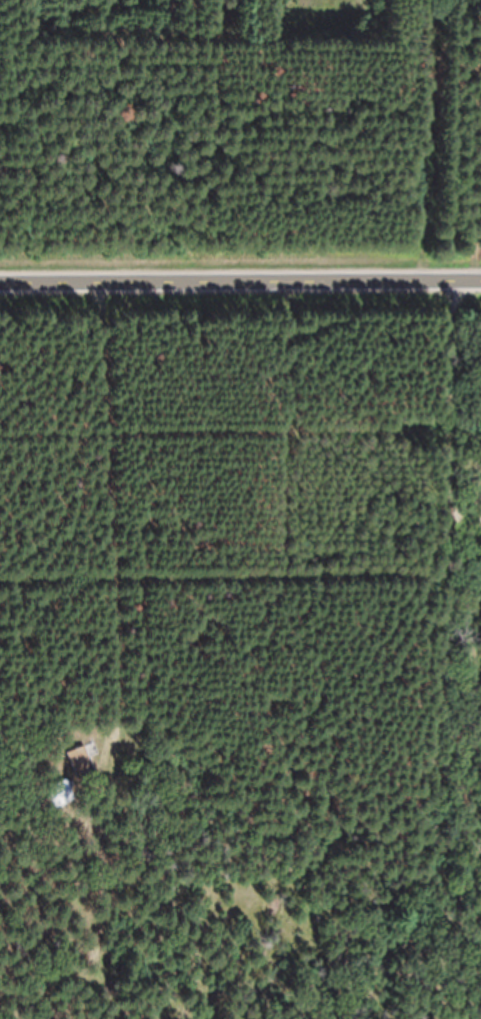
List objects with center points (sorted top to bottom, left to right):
road: (240, 282)
building: (84, 773)
building: (63, 805)

